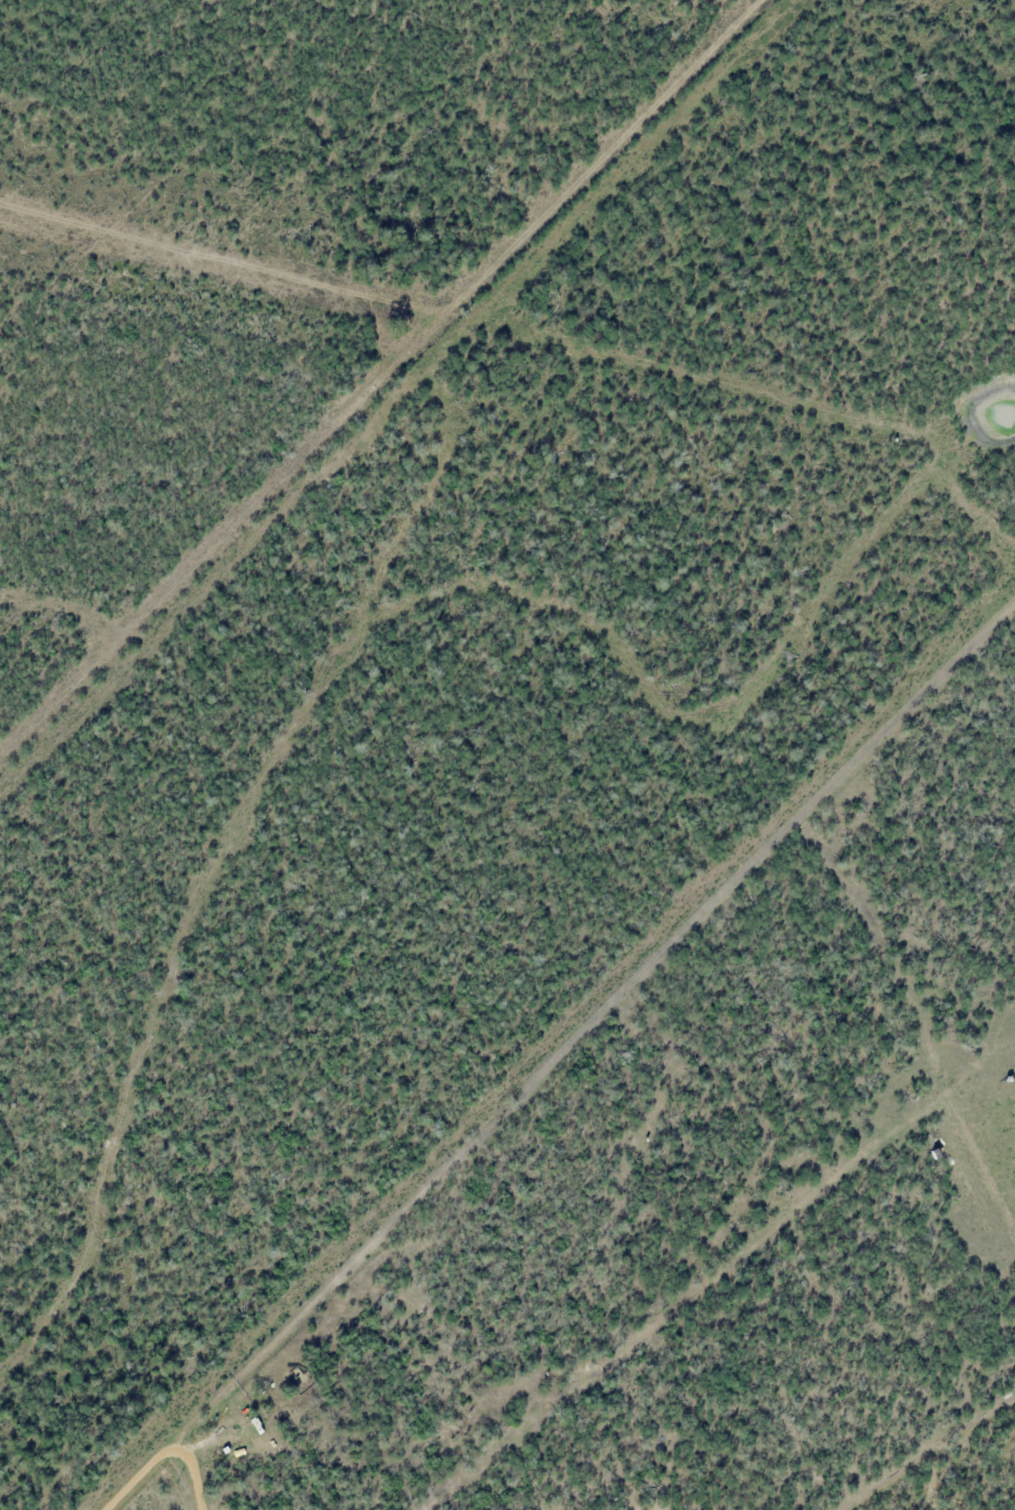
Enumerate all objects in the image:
building: (231, 1441)

